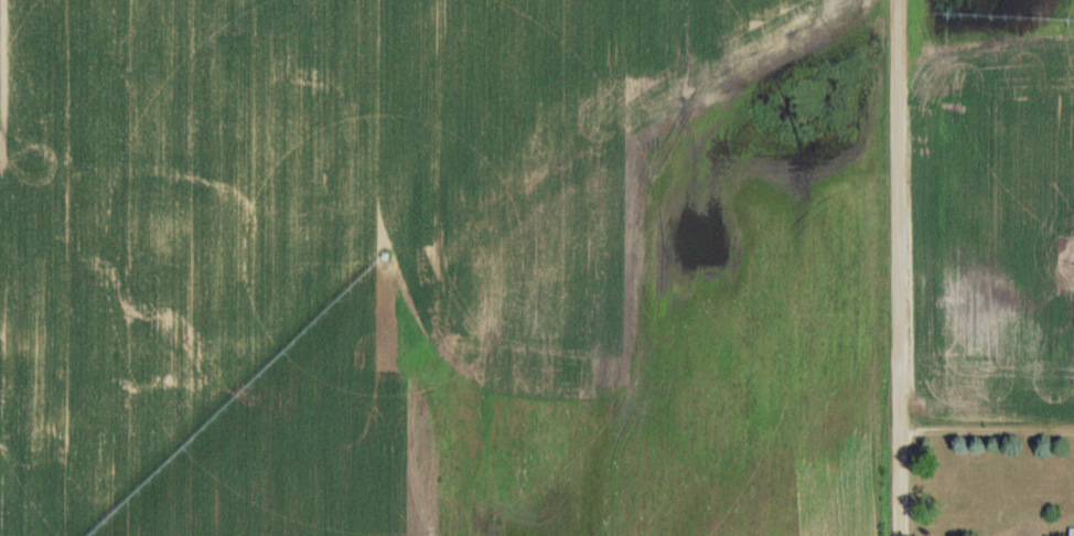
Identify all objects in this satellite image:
road: (899, 268)
building: (1072, 532)

